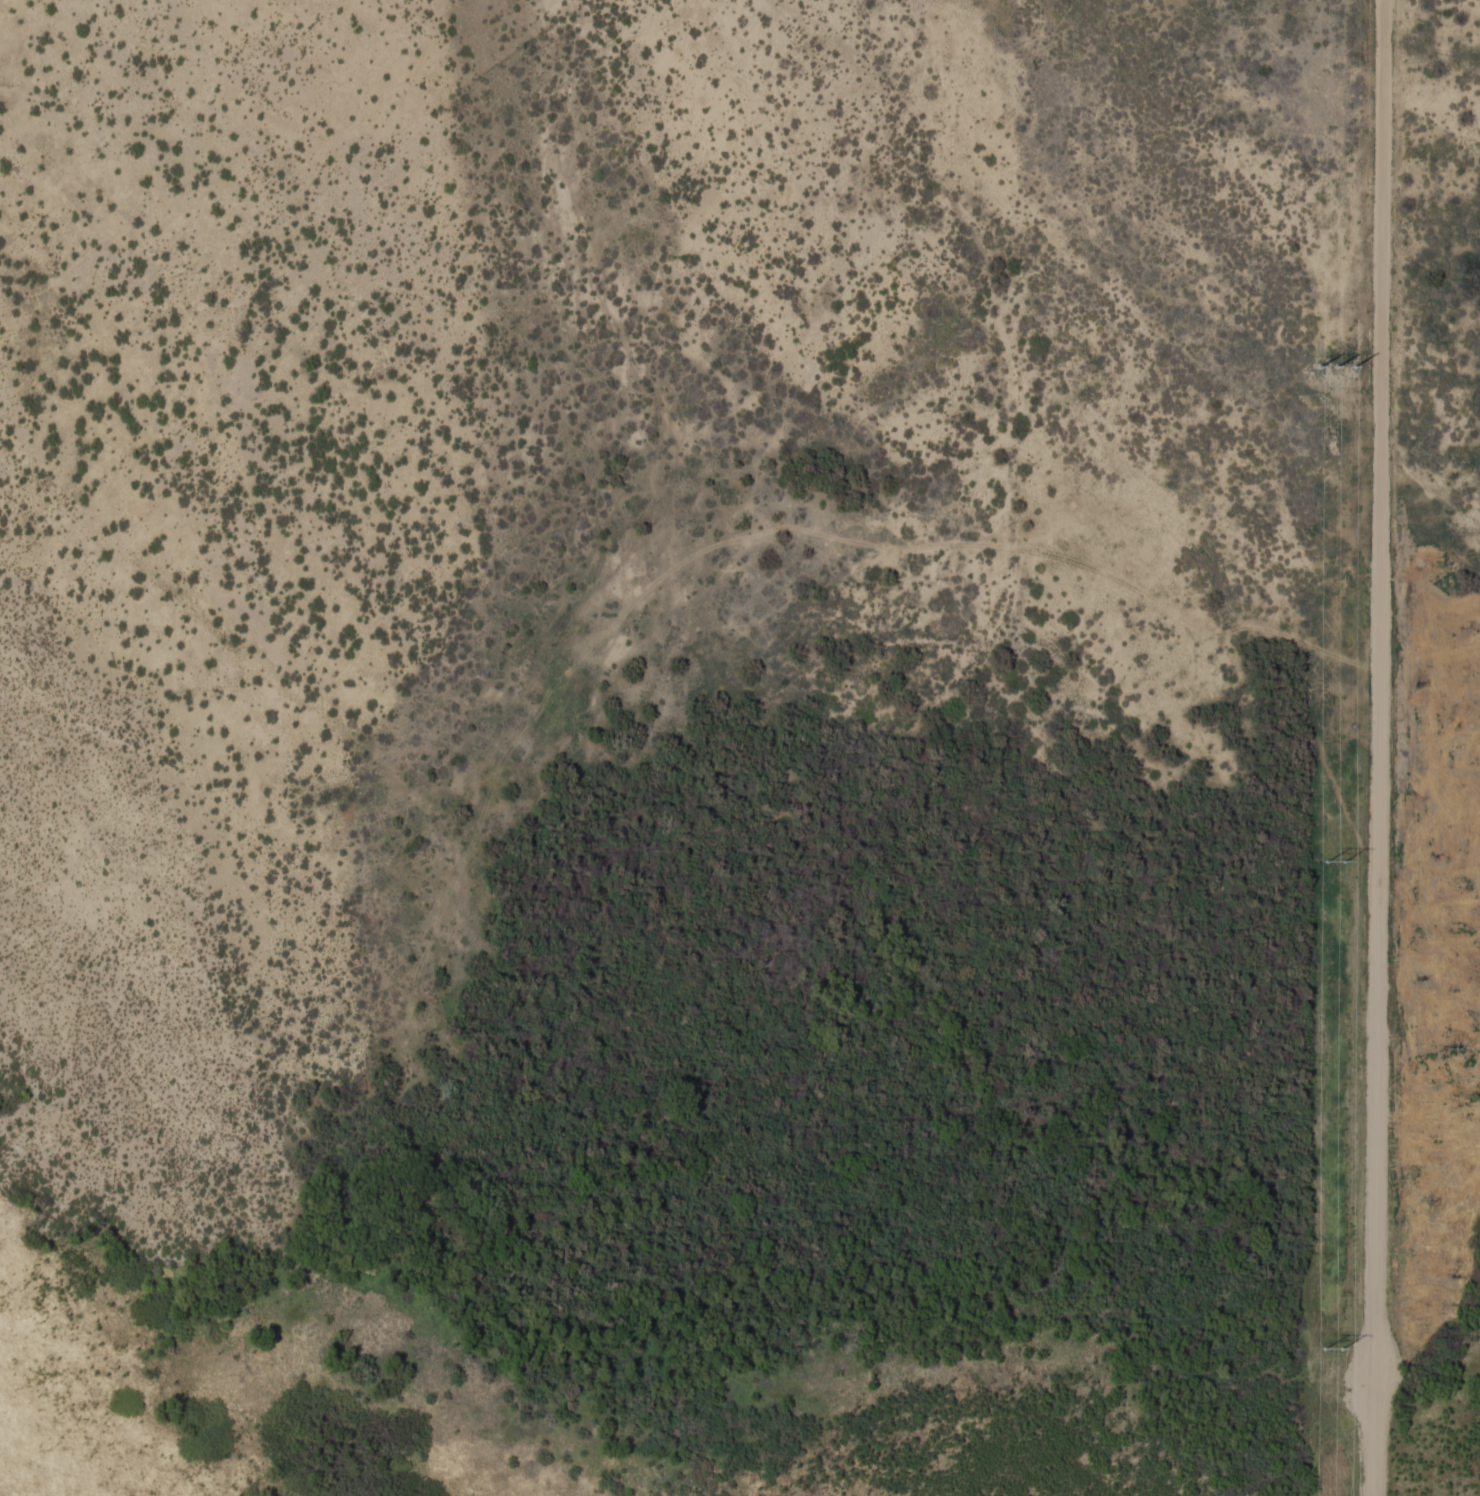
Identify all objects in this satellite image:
power tower: (1328, 360)
power tower: (1328, 859)
power tower: (1327, 1347)

